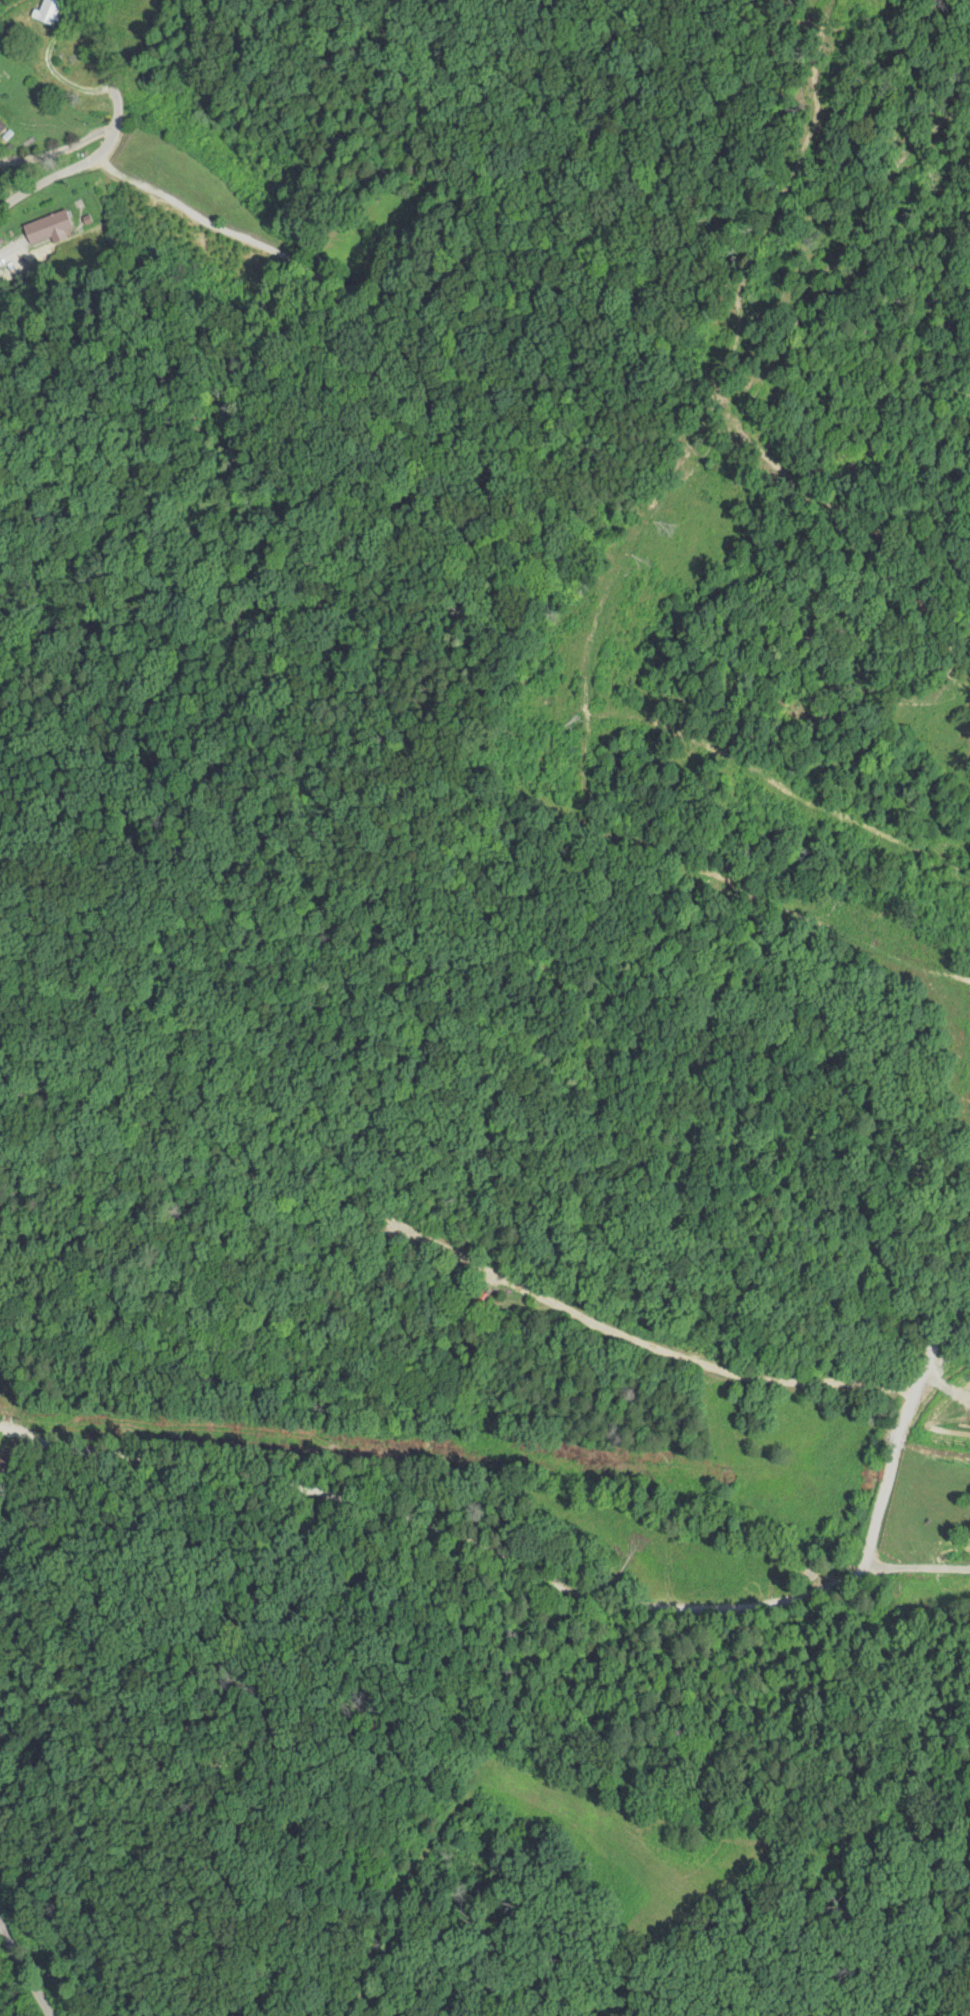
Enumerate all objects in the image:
building: (47, 12)
building: (3, 126)
road: (130, 169)
building: (51, 227)
road: (563, 1590)
road: (34, 1953)

